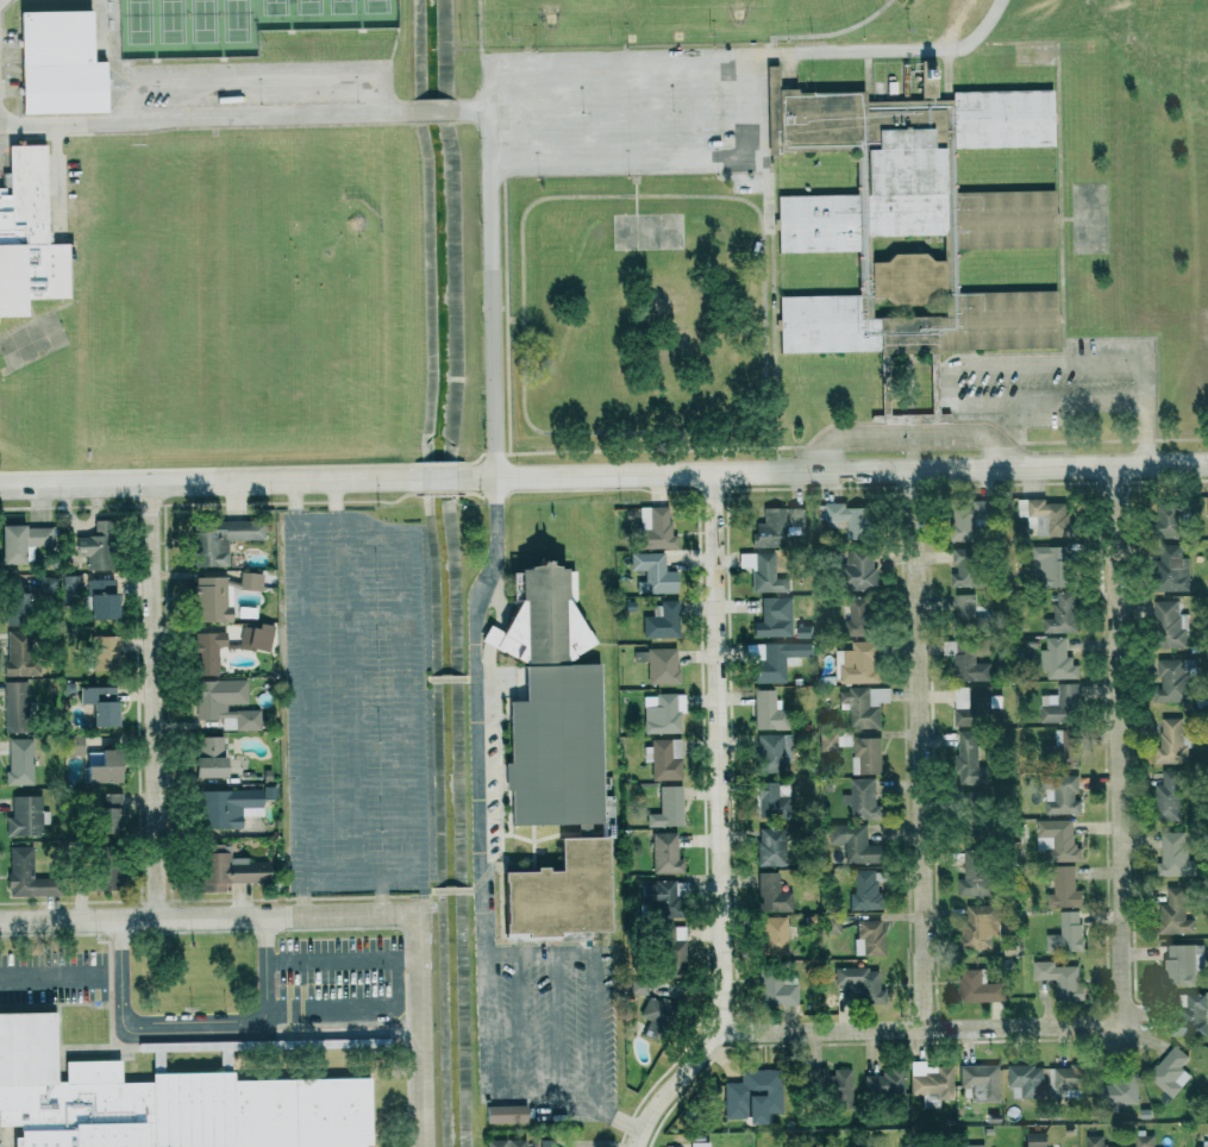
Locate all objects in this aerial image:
park: (233, 23)
building: (378, 45)
building: (299, 50)
road: (551, 58)
building: (60, 59)
road: (475, 109)
parking lot: (624, 109)
road: (432, 111)
road: (201, 115)
building: (913, 217)
building: (29, 237)
road: (838, 470)
road: (446, 477)
road: (212, 482)
road: (338, 501)
building: (1173, 516)
building: (1043, 518)
building: (974, 520)
building: (777, 526)
building: (655, 528)
building: (220, 539)
building: (23, 541)
building: (96, 546)
building: (1054, 565)
building: (968, 568)
building: (859, 569)
building: (1171, 569)
building: (651, 572)
building: (763, 572)
building: (251, 581)
building: (70, 584)
building: (48, 585)
building: (101, 587)
building: (211, 600)
building: (18, 604)
building: (102, 607)
building: (965, 609)
building: (1062, 614)
building: (775, 618)
building: (859, 618)
building: (661, 621)
building: (1169, 625)
building: (803, 631)
building: (256, 638)
building: (18, 652)
building: (106, 652)
building: (207, 652)
building: (755, 652)
building: (780, 659)
building: (965, 660)
building: (1057, 660)
building: (858, 663)
building: (659, 664)
road: (405, 665)
road: (446, 677)
building: (1173, 679)
road: (308, 697)
road: (151, 701)
parking lot: (355, 702)
building: (101, 704)
building: (225, 704)
building: (864, 704)
building: (1062, 704)
building: (17, 707)
building: (981, 708)
building: (768, 712)
building: (662, 714)
building: (1171, 741)
building: (74, 745)
road: (1116, 745)
building: (1065, 746)
road: (918, 748)
building: (770, 753)
building: (555, 754)
building: (866, 754)
building: (209, 757)
building: (663, 758)
building: (93, 759)
building: (969, 759)
building: (19, 761)
building: (105, 769)
building: (1060, 794)
building: (1169, 795)
building: (765, 796)
building: (862, 798)
building: (227, 807)
building: (668, 807)
building: (107, 813)
building: (24, 815)
road: (716, 822)
building: (1057, 841)
building: (856, 842)
building: (771, 846)
building: (665, 853)
building: (1175, 855)
building: (229, 867)
road: (483, 869)
building: (974, 871)
building: (25, 873)
building: (104, 873)
road: (362, 876)
building: (868, 888)
building: (1063, 888)
road: (452, 891)
building: (772, 892)
building: (659, 897)
building: (1175, 913)
road: (209, 916)
building: (832, 925)
building: (979, 925)
building: (1066, 932)
building: (774, 934)
building: (869, 938)
building: (672, 945)
road: (343, 957)
building: (1181, 964)
road: (50, 978)
building: (1060, 978)
building: (638, 983)
building: (859, 983)
building: (777, 988)
building: (978, 988)
road: (344, 1005)
building: (656, 1013)
building: (1190, 1015)
road: (193, 1024)
road: (920, 1028)
road: (420, 1029)
building: (368, 1043)
building: (1170, 1071)
building: (931, 1079)
building: (1026, 1080)
building: (979, 1082)
building: (1065, 1082)
building: (831, 1083)
building: (885, 1083)
building: (157, 1091)
building: (1119, 1092)
building: (753, 1095)
building: (506, 1114)
building: (1034, 1139)
building: (1096, 1141)
building: (1144, 1141)
building: (506, 1142)
building: (545, 1143)
building: (693, 1143)
building: (1202, 1143)
building: (974, 1146)

